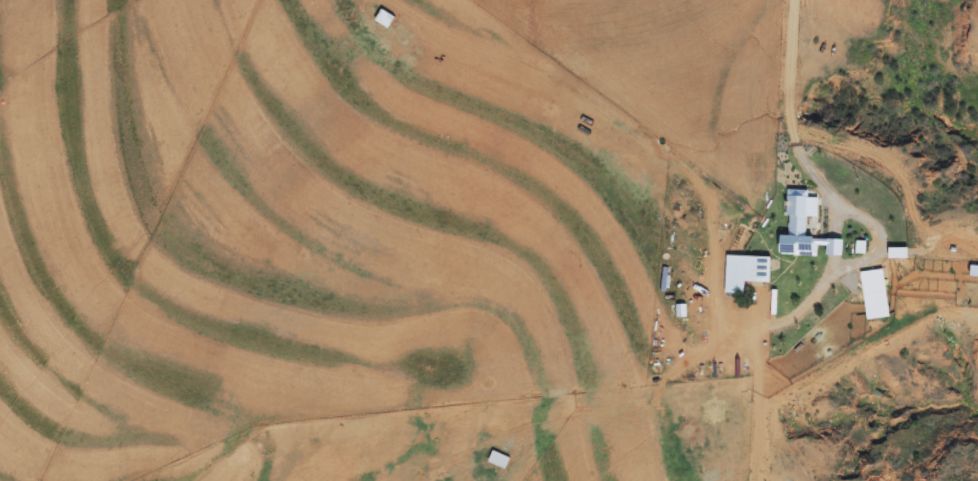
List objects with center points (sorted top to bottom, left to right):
building: (383, 17)
road: (790, 134)
building: (804, 237)
building: (746, 267)
building: (497, 459)

